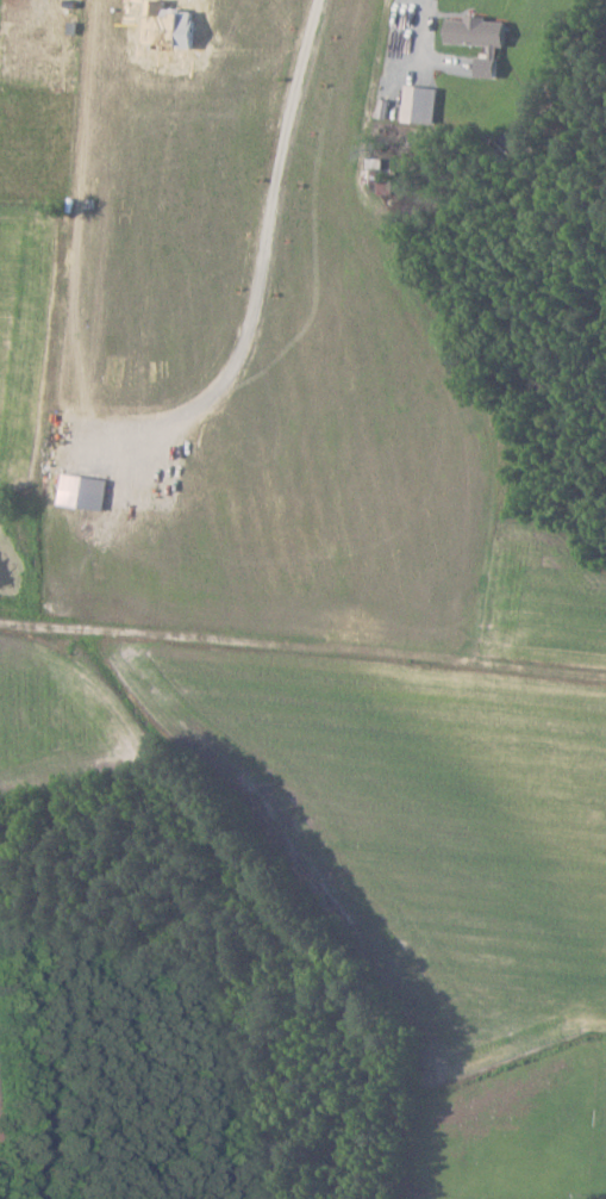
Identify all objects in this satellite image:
road: (426, 1)
building: (480, 30)
building: (423, 104)
road: (302, 653)

